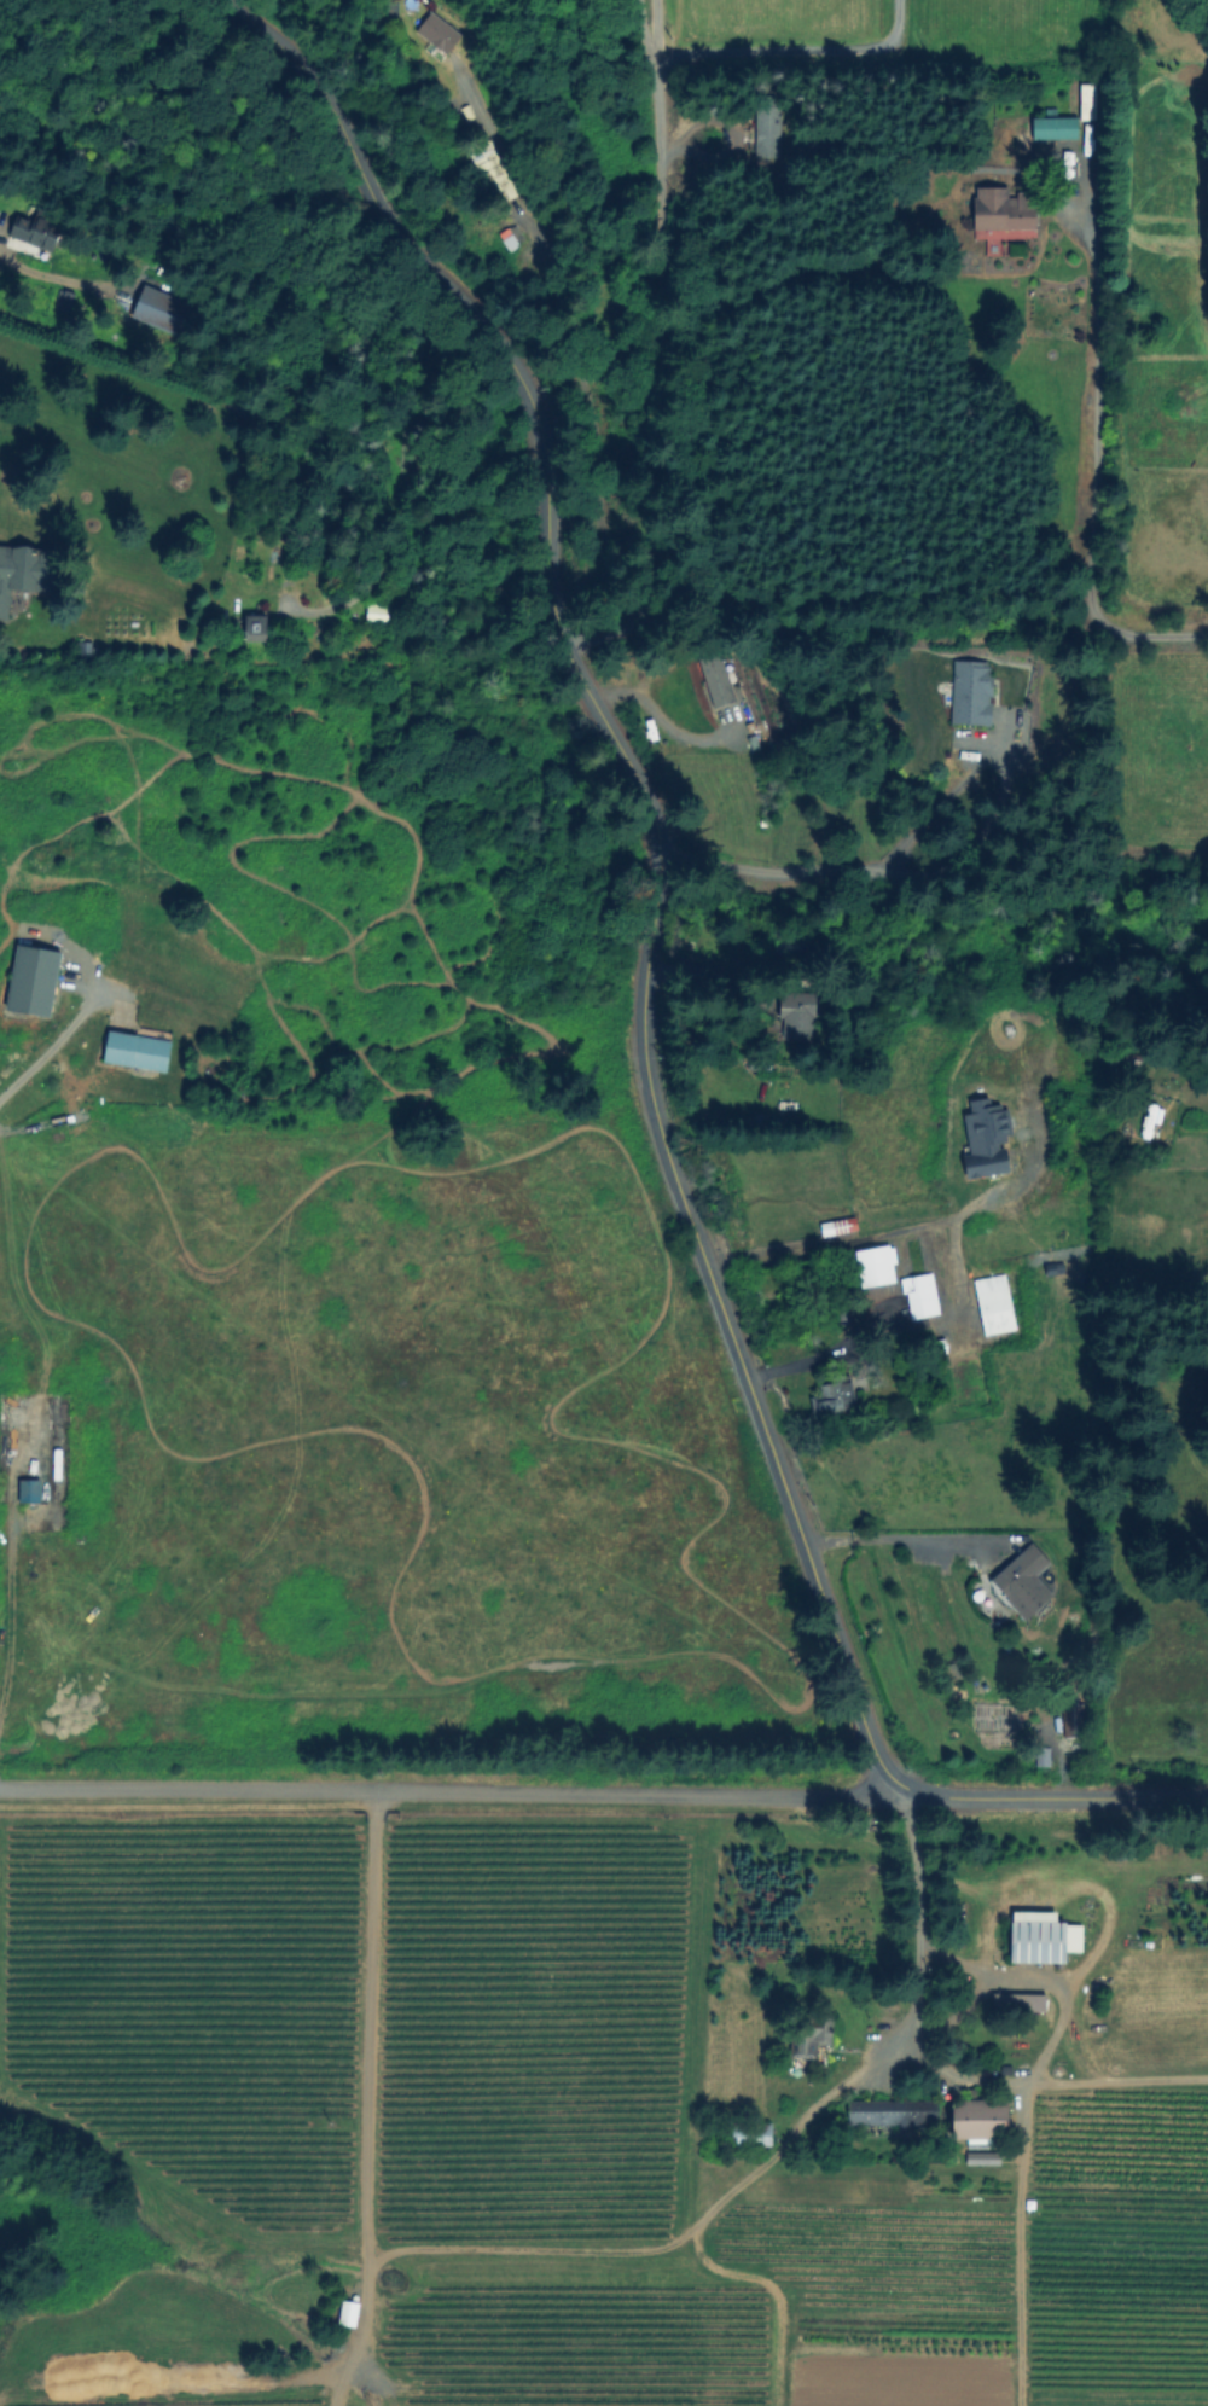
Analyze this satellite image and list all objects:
road: (631, 30)
building: (440, 33)
road: (788, 54)
building: (1056, 127)
building: (769, 132)
building: (820, 143)
building: (493, 168)
building: (1004, 209)
building: (39, 231)
building: (511, 240)
building: (165, 310)
road: (643, 337)
road: (1092, 477)
building: (24, 571)
building: (378, 615)
building: (259, 627)
building: (687, 693)
building: (722, 814)
road: (846, 871)
building: (37, 977)
road: (645, 999)
building: (797, 1015)
road: (50, 1038)
building: (138, 1052)
building: (987, 1141)
building: (840, 1227)
road: (847, 1242)
building: (876, 1265)
building: (922, 1297)
building: (994, 1304)
building: (847, 1314)
road: (892, 1332)
building: (941, 1347)
building: (835, 1396)
building: (35, 1447)
road: (898, 1540)
building: (1024, 1582)
road: (6, 1602)
building: (952, 1673)
building: (1075, 1721)
road: (453, 1794)
building: (1039, 1939)
building: (1022, 2001)
road: (377, 2024)
road: (1059, 2026)
building: (807, 2035)
building: (895, 2112)
building: (981, 2121)
building: (756, 2137)
road: (774, 2160)
road: (374, 2308)

